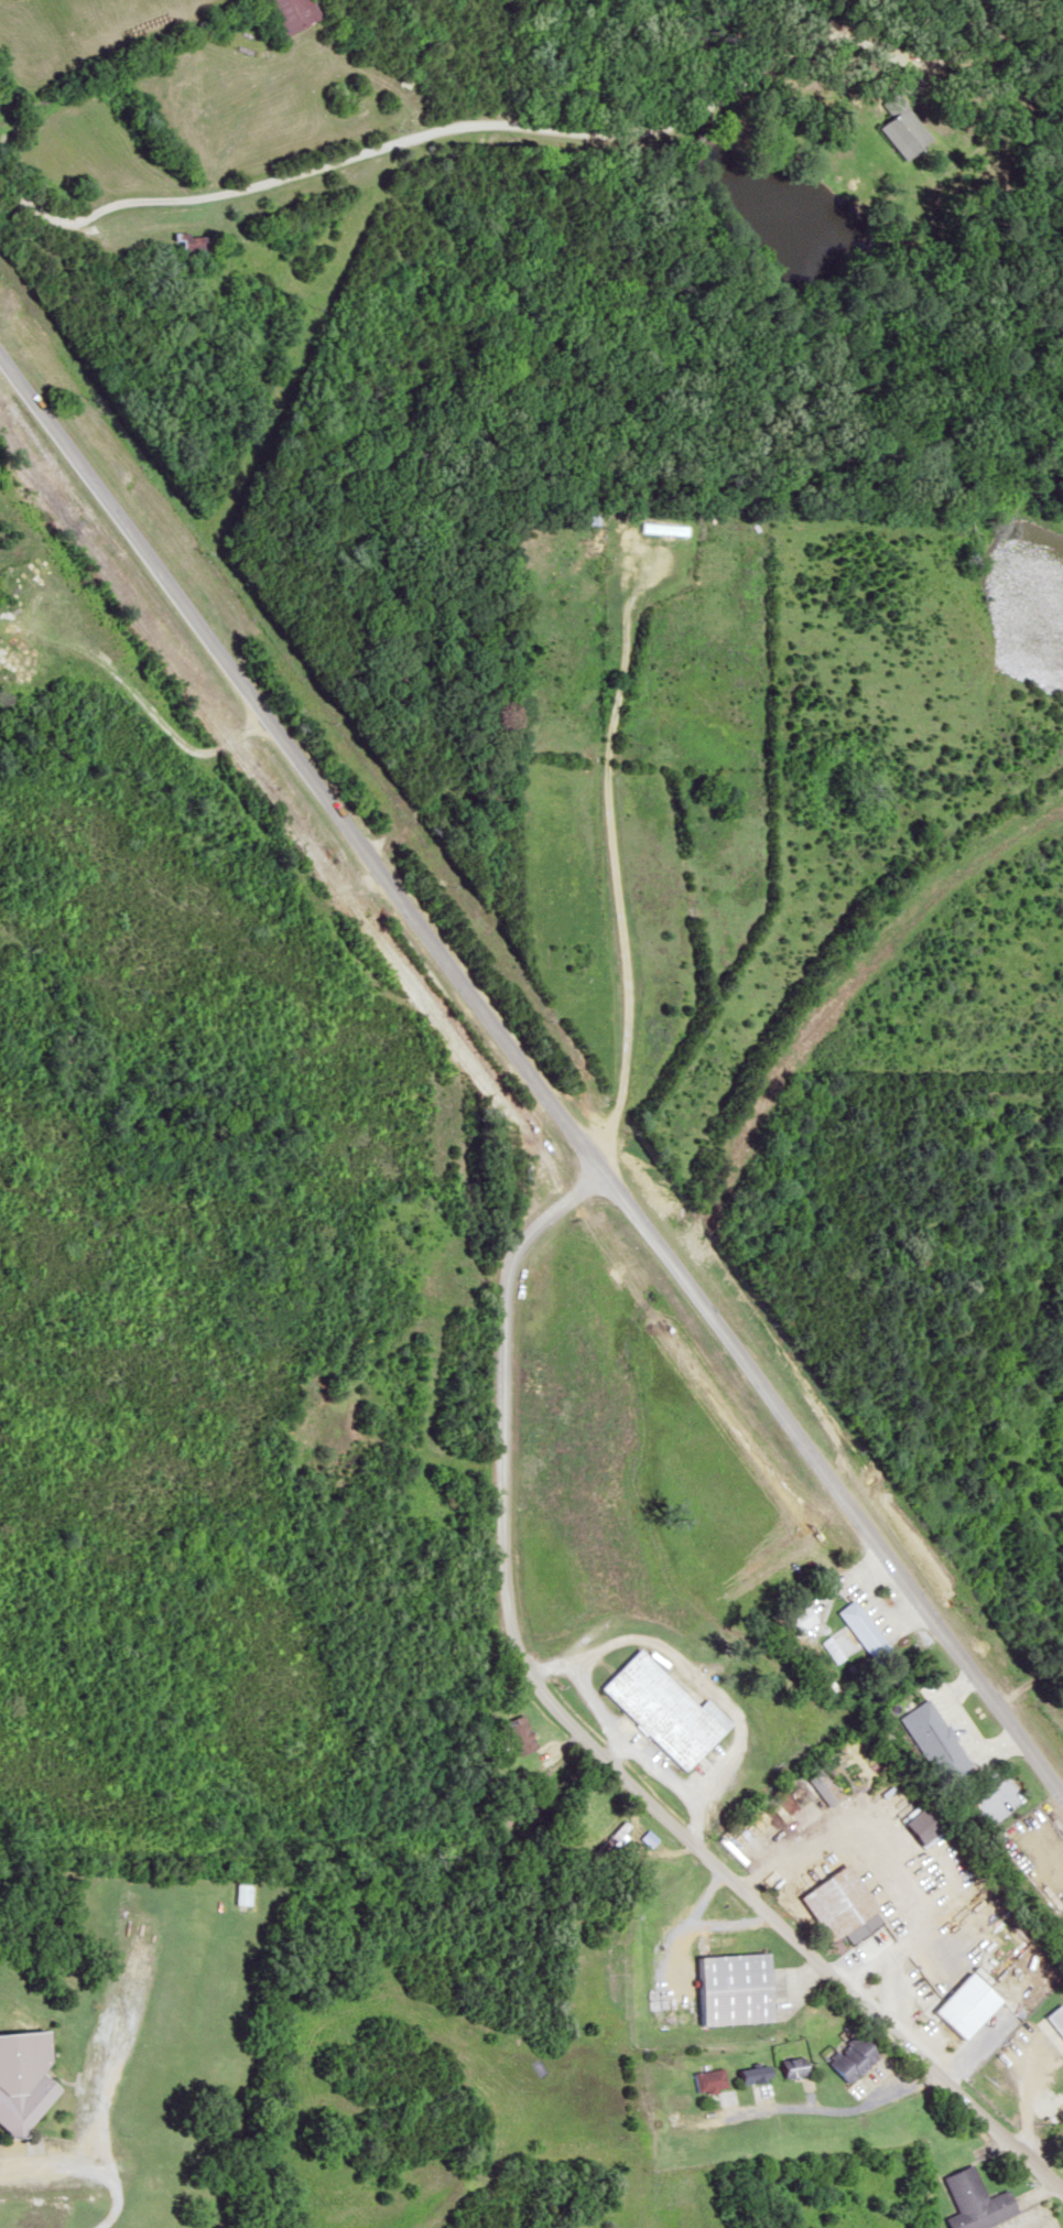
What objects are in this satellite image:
building: (283, 13)
building: (890, 107)
building: (186, 242)
building: (581, 518)
building: (655, 528)
road: (609, 858)
road: (531, 1082)
building: (792, 1618)
building: (855, 1624)
building: (832, 1648)
building: (659, 1709)
building: (518, 1733)
building: (930, 1740)
road: (593, 1748)
building: (818, 1787)
building: (608, 1837)
building: (236, 1894)
building: (836, 1905)
building: (725, 1989)
building: (1054, 2020)
road: (1006, 2052)
building: (845, 2059)
building: (788, 2067)
building: (746, 2075)
building: (25, 2078)
building: (708, 2079)
road: (822, 2109)
road: (86, 2168)
building: (968, 2200)

